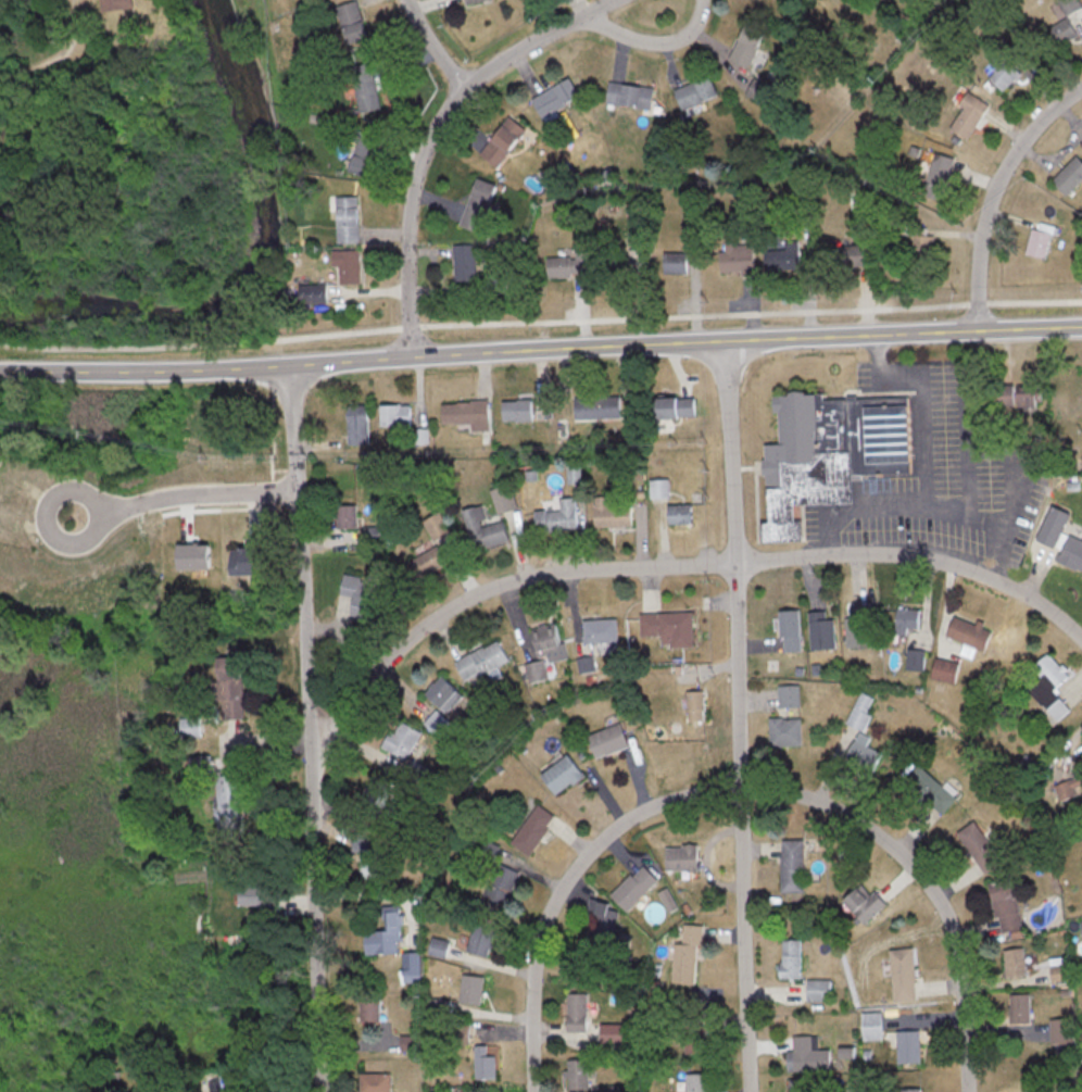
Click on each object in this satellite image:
building: (470, 1)
building: (115, 4)
building: (352, 24)
road: (652, 41)
road: (431, 46)
building: (745, 46)
road: (55, 55)
building: (757, 89)
building: (695, 91)
building: (367, 92)
building: (630, 93)
building: (554, 99)
road: (432, 134)
building: (502, 140)
building: (364, 154)
road: (995, 194)
building: (477, 203)
building: (348, 218)
building: (781, 254)
building: (737, 258)
building: (676, 261)
building: (463, 262)
building: (348, 264)
building: (566, 265)
building: (313, 292)
road: (540, 350)
building: (677, 405)
building: (599, 406)
building: (518, 407)
building: (395, 413)
building: (357, 424)
building: (829, 453)
road: (924, 469)
building: (573, 473)
road: (188, 492)
building: (503, 498)
building: (612, 513)
building: (681, 513)
building: (345, 515)
building: (558, 515)
road: (989, 525)
building: (485, 527)
building: (435, 547)
building: (194, 555)
building: (244, 558)
road: (672, 567)
building: (356, 589)
building: (670, 627)
building: (601, 629)
building: (549, 641)
building: (479, 660)
building: (586, 664)
building: (687, 668)
building: (230, 687)
building: (442, 693)
building: (794, 695)
building: (695, 704)
road: (739, 716)
building: (436, 723)
building: (189, 726)
road: (306, 728)
building: (401, 739)
building: (607, 740)
building: (561, 774)
building: (373, 788)
building: (222, 794)
building: (532, 828)
building: (682, 857)
building: (369, 862)
road: (924, 883)
building: (500, 886)
road: (565, 887)
building: (634, 887)
building: (260, 898)
building: (869, 905)
building: (602, 917)
building: (386, 933)
building: (479, 939)
building: (687, 953)
building: (471, 988)
building: (823, 989)
building: (369, 1007)
building: (577, 1011)
building: (612, 1032)
building: (407, 1042)
building: (688, 1045)
building: (813, 1060)
building: (483, 1063)
building: (581, 1078)
building: (375, 1081)
building: (694, 1082)
building: (914, 1090)

